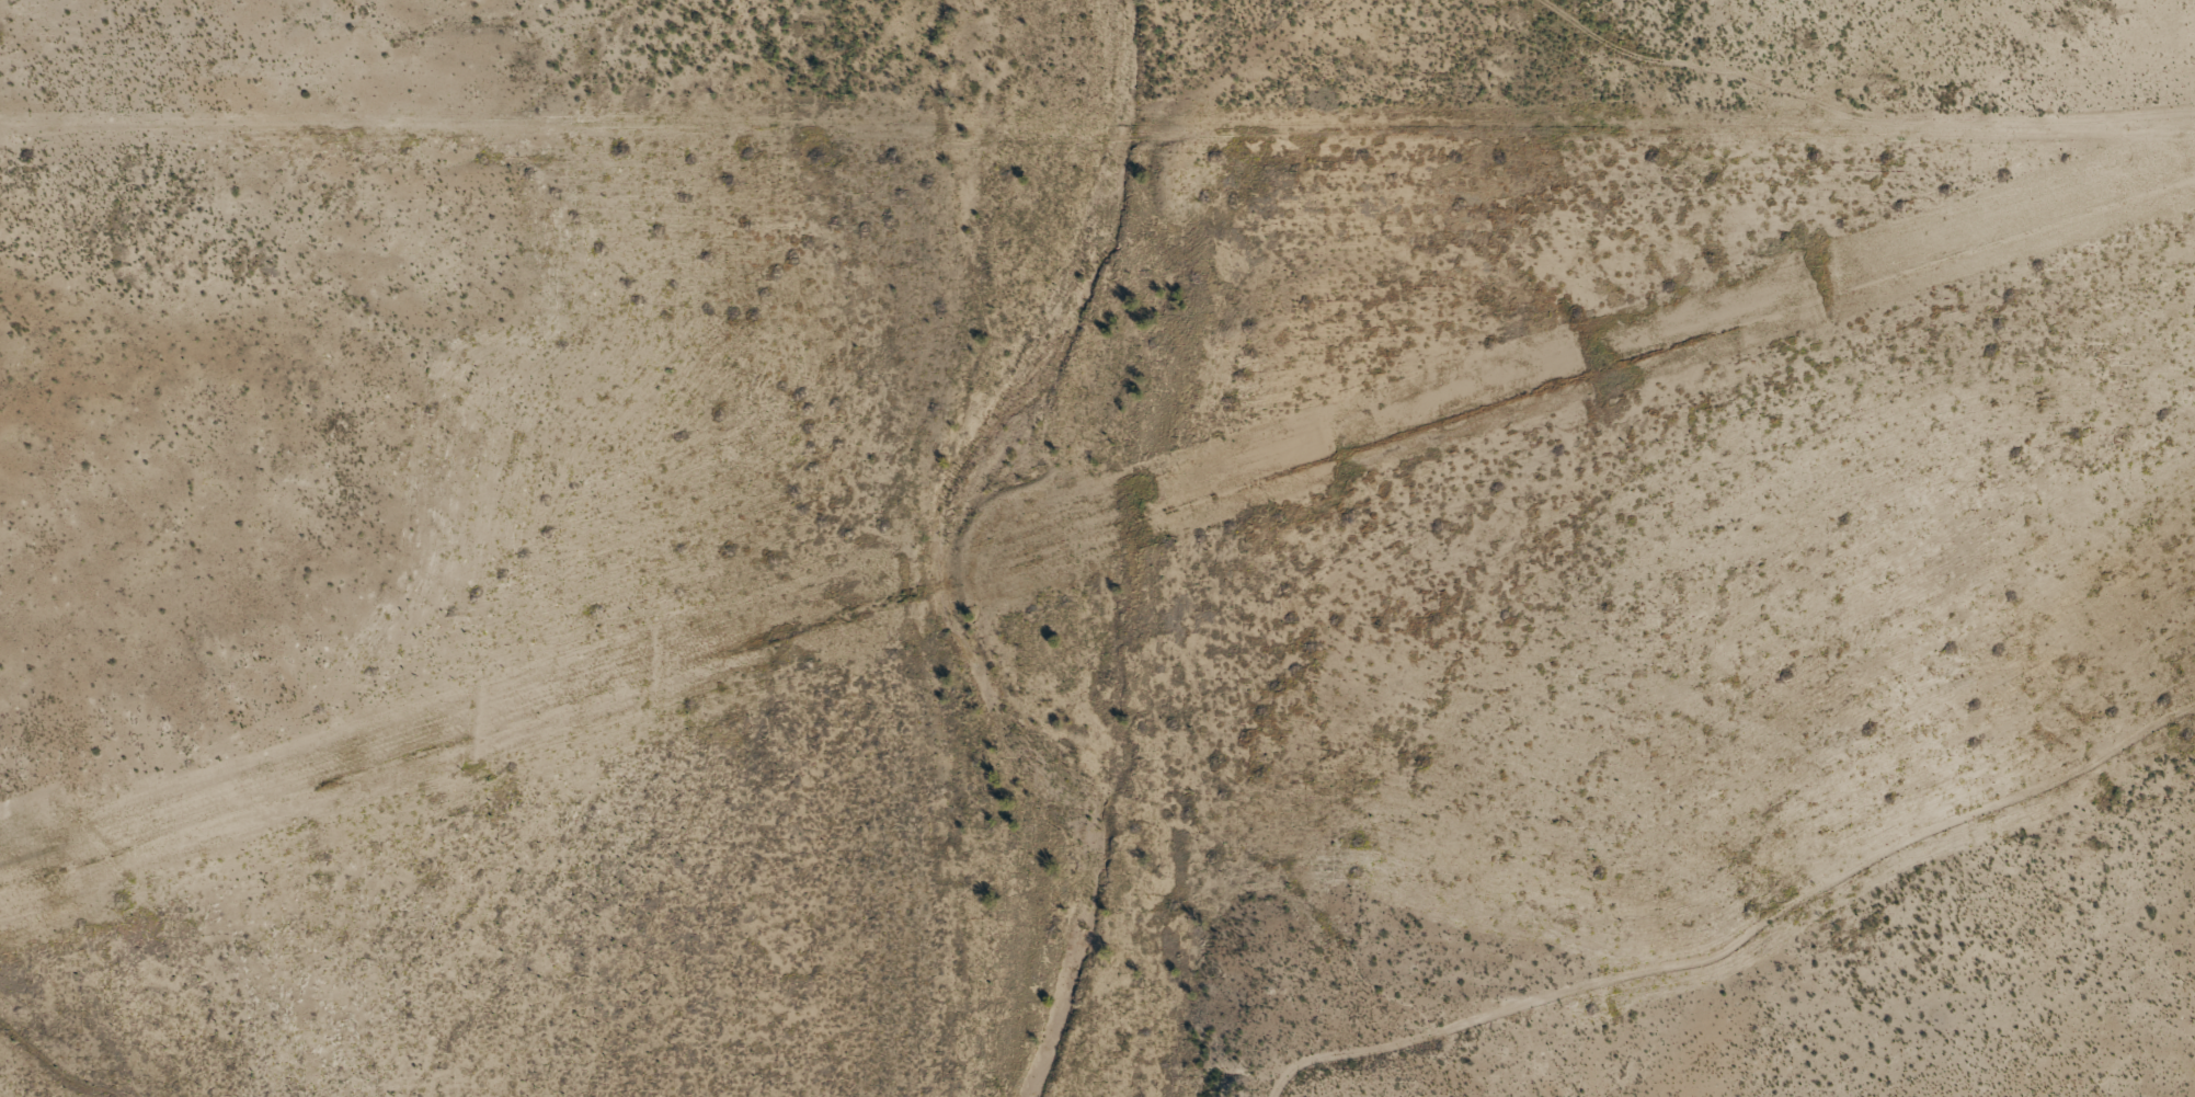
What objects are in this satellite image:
road: (1520, 23)
road: (1782, 947)

